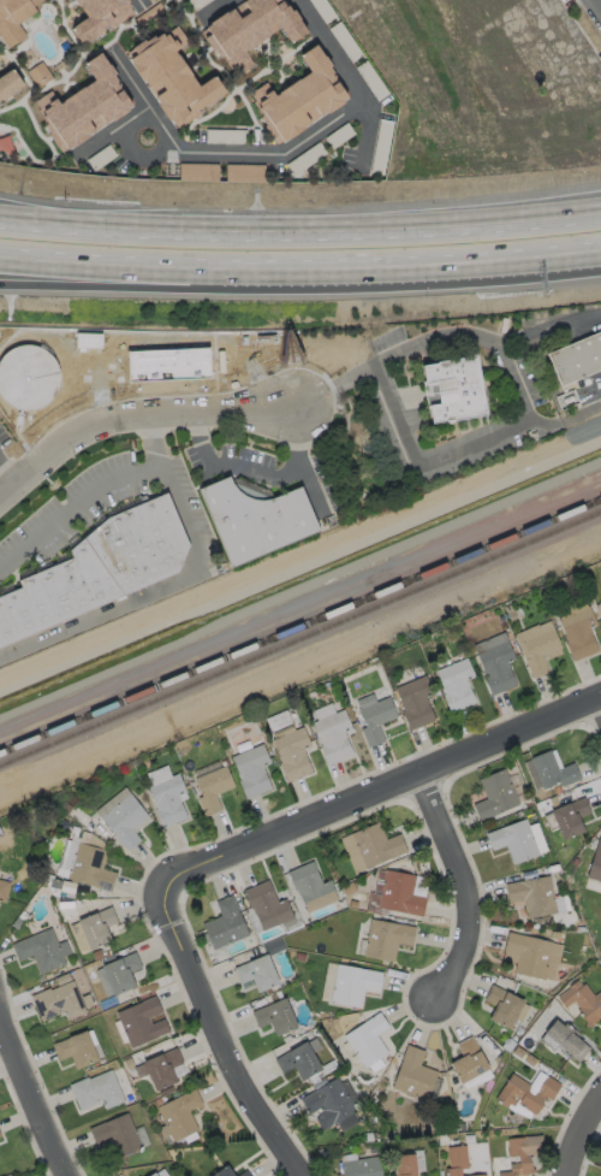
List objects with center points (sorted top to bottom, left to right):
building: (148, 0)
road: (142, 1)
road: (596, 6)
road: (210, 10)
building: (13, 18)
building: (100, 18)
building: (248, 29)
building: (38, 73)
building: (172, 75)
road: (352, 81)
building: (8, 83)
building: (299, 97)
building: (84, 105)
road: (121, 124)
road: (220, 150)
road: (139, 155)
building: (197, 171)
building: (244, 172)
road: (50, 214)
road: (49, 226)
road: (351, 229)
road: (464, 262)
road: (163, 266)
road: (165, 288)
road: (549, 325)
building: (87, 341)
road: (393, 356)
building: (577, 359)
building: (165, 362)
building: (458, 391)
road: (135, 416)
road: (525, 419)
road: (303, 462)
road: (422, 463)
road: (252, 471)
road: (7, 475)
road: (76, 508)
building: (261, 522)
building: (100, 571)
road: (175, 579)
building: (600, 602)
railway: (300, 627)
building: (577, 632)
railway: (299, 642)
building: (536, 645)
building: (496, 666)
building: (456, 684)
building: (413, 701)
road: (595, 710)
building: (374, 716)
building: (332, 735)
building: (291, 752)
building: (251, 769)
building: (552, 769)
building: (212, 787)
road: (382, 791)
building: (494, 793)
building: (167, 798)
building: (569, 816)
building: (124, 820)
building: (513, 840)
building: (370, 846)
building: (595, 862)
building: (90, 867)
building: (418, 885)
building: (310, 886)
road: (469, 887)
building: (4, 888)
building: (399, 893)
building: (531, 896)
building: (267, 905)
building: (224, 922)
building: (96, 926)
building: (386, 938)
building: (41, 950)
building: (526, 953)
building: (120, 971)
building: (256, 971)
building: (327, 981)
building: (352, 983)
building: (582, 1000)
building: (58, 1001)
building: (501, 1005)
building: (275, 1016)
building: (141, 1021)
road: (234, 1028)
building: (367, 1039)
building: (565, 1039)
building: (75, 1048)
building: (468, 1059)
building: (298, 1060)
building: (162, 1066)
building: (412, 1072)
building: (95, 1089)
building: (525, 1092)
road: (34, 1099)
building: (331, 1104)
building: (179, 1113)
building: (117, 1134)
road: (587, 1140)
building: (522, 1153)
building: (418, 1159)
building: (457, 1160)
building: (404, 1164)
building: (361, 1166)
building: (222, 1171)
building: (151, 1174)
building: (243, 1174)

